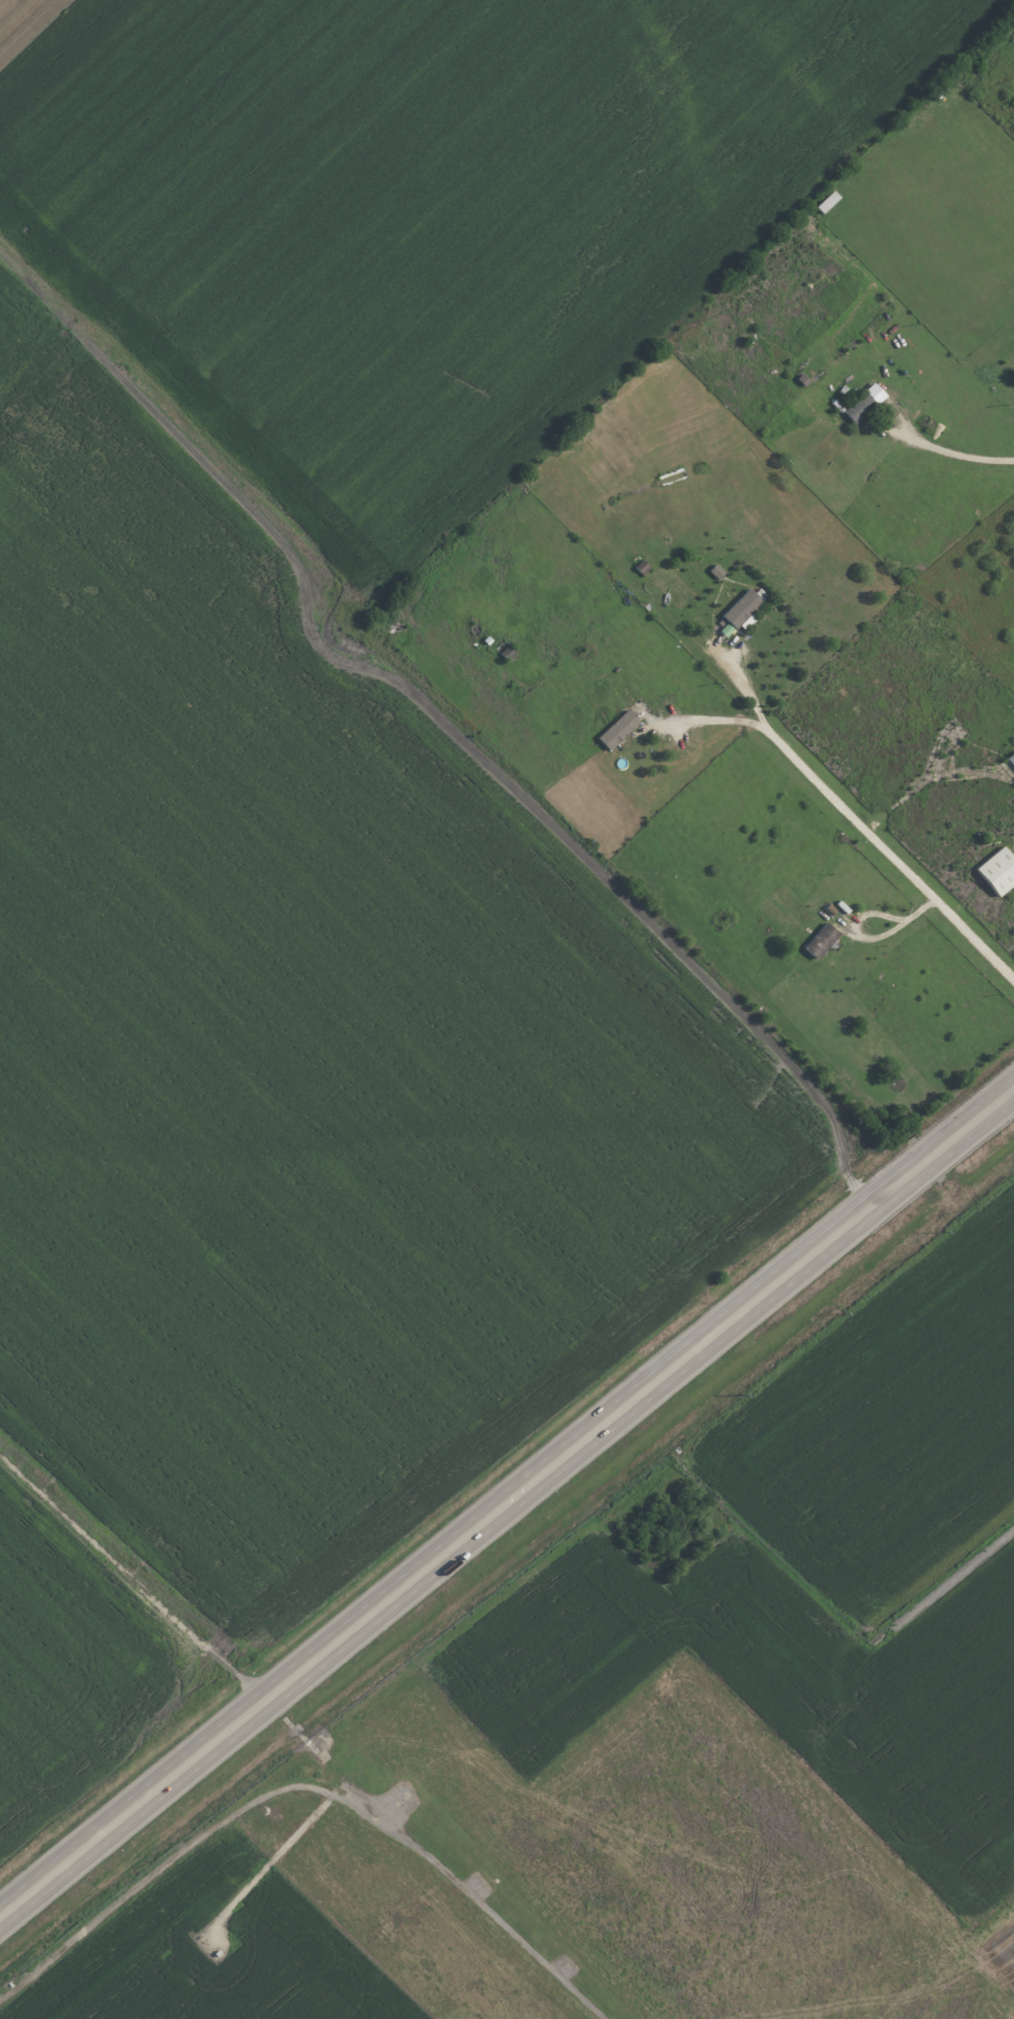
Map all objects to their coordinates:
building: (827, 201)
building: (864, 403)
road: (955, 456)
building: (642, 567)
building: (745, 608)
road: (738, 676)
road: (707, 721)
building: (618, 729)
building: (1011, 759)
road: (925, 781)
road: (890, 859)
building: (998, 871)
road: (863, 937)
building: (821, 941)
road: (508, 1497)
airport: (625, 1773)

